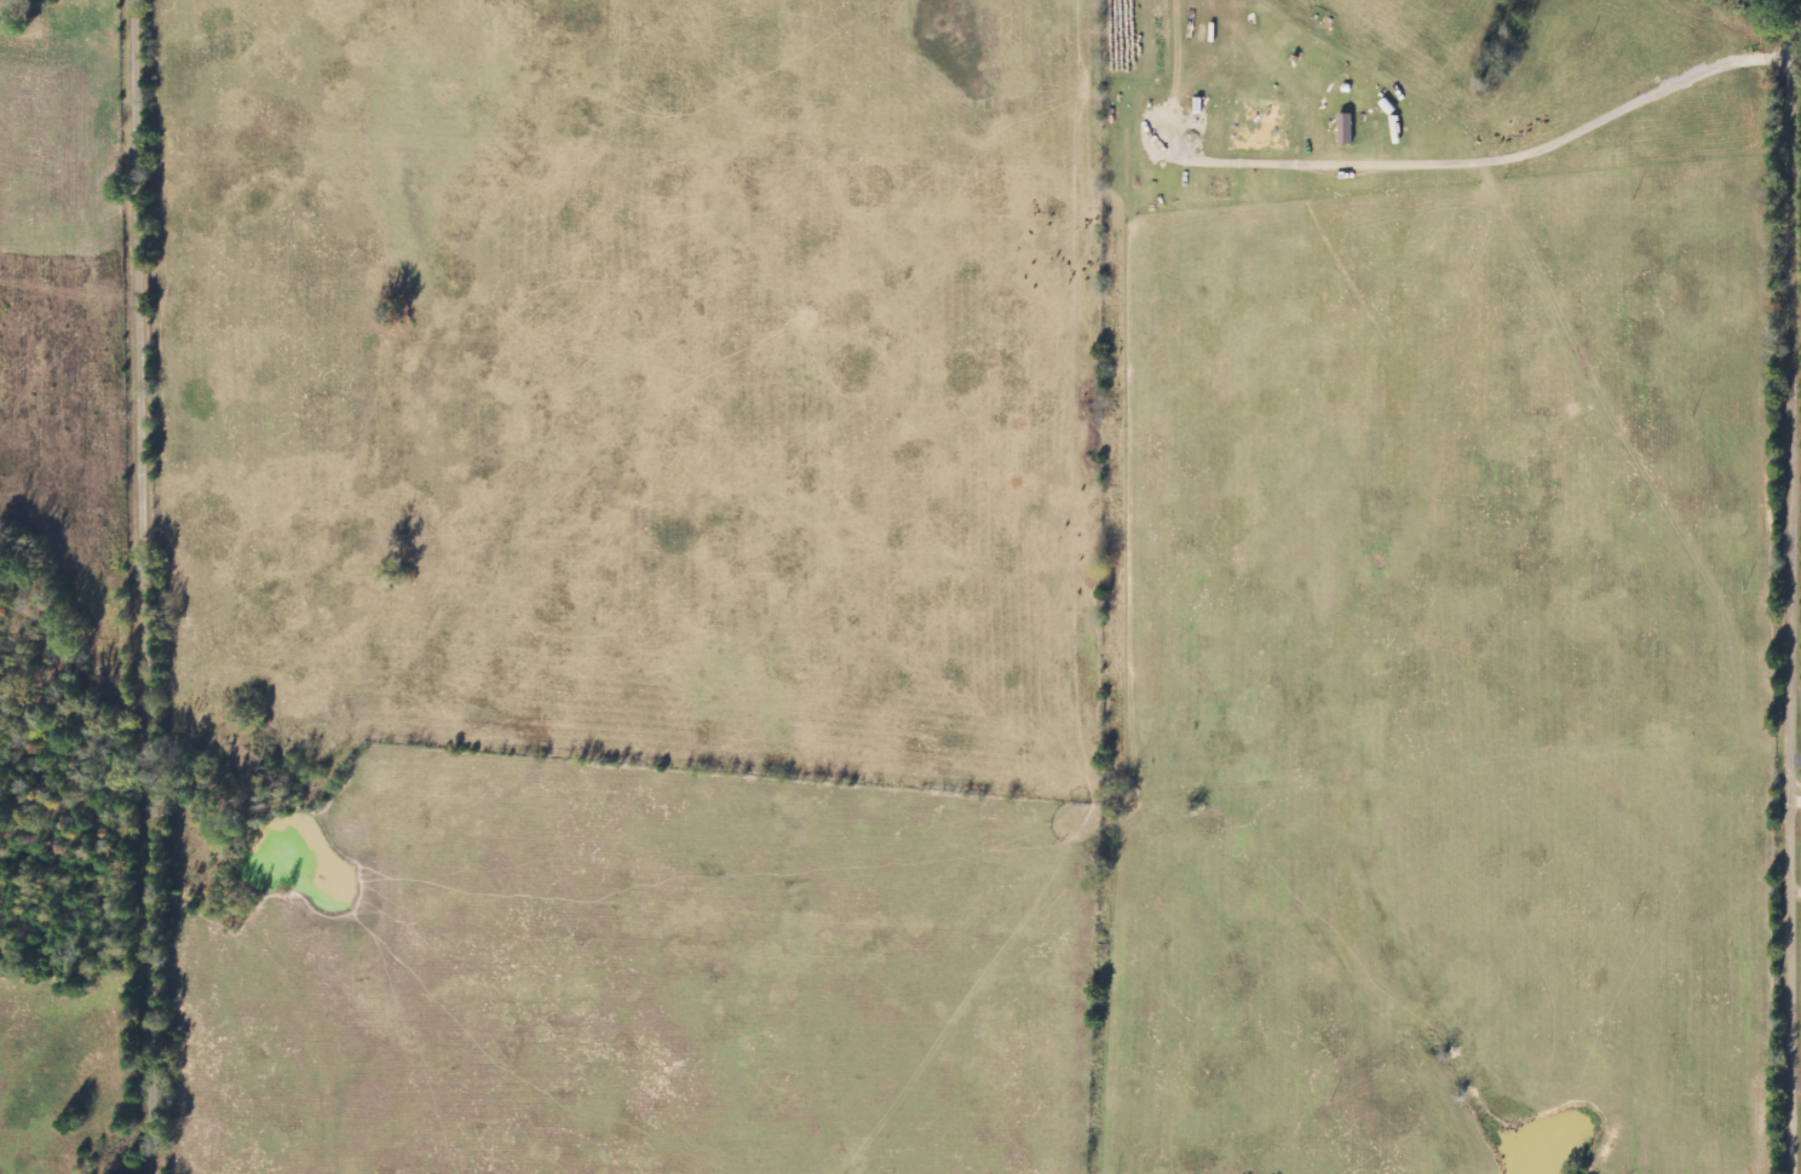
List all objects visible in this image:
building: (1348, 130)
road: (1800, 309)
road: (151, 587)

